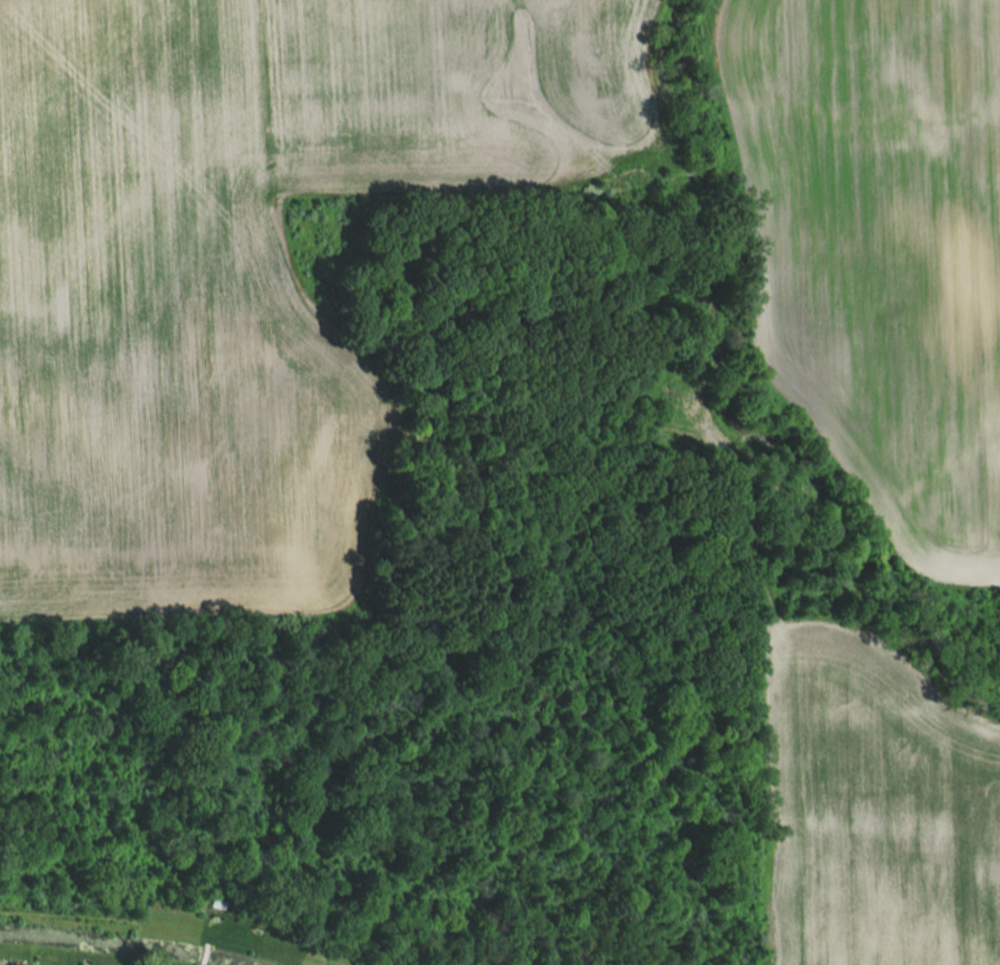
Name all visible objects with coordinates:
crop: (879, 250)
crop: (242, 272)
crop: (876, 806)

